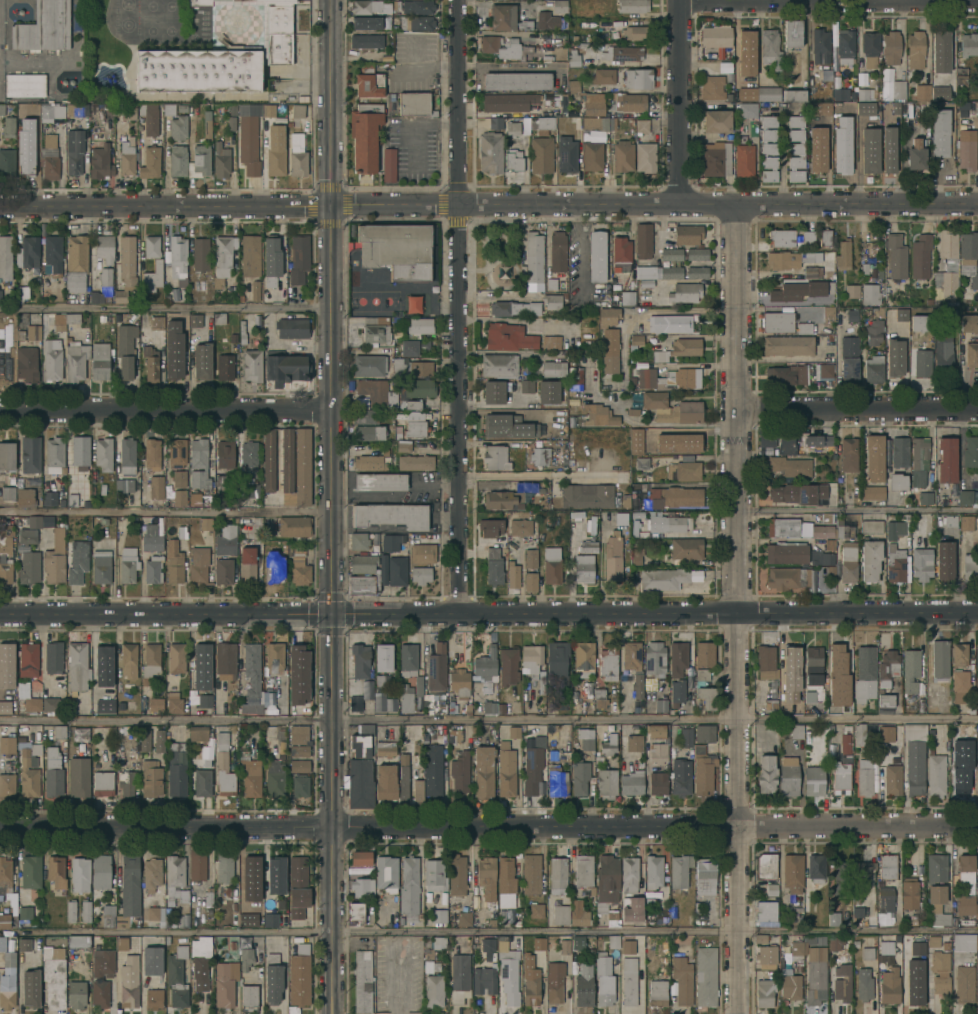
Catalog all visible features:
building: (286, 1)
road: (827, 1)
building: (217, 2)
building: (240, 2)
building: (195, 3)
building: (396, 5)
building: (632, 5)
building: (417, 6)
building: (559, 6)
building: (370, 7)
building: (506, 18)
building: (548, 20)
building: (270, 21)
building: (365, 22)
building: (417, 23)
building: (285, 24)
building: (52, 25)
building: (636, 32)
building: (792, 32)
building: (22, 35)
building: (716, 36)
building: (573, 37)
building: (600, 37)
building: (366, 40)
building: (747, 40)
building: (969, 44)
building: (845, 45)
building: (503, 46)
building: (821, 46)
building: (892, 47)
building: (771, 48)
building: (870, 49)
building: (916, 49)
building: (940, 50)
building: (622, 52)
building: (277, 54)
building: (245, 56)
building: (722, 56)
building: (573, 57)
building: (386, 59)
road: (429, 67)
road: (519, 67)
building: (220, 68)
building: (724, 68)
building: (146, 70)
building: (169, 70)
building: (193, 70)
building: (245, 75)
building: (604, 75)
building: (961, 76)
building: (826, 77)
building: (638, 78)
building: (730, 78)
building: (209, 79)
building: (517, 80)
building: (369, 81)
building: (862, 82)
building: (836, 83)
building: (19, 84)
building: (40, 84)
building: (574, 85)
building: (245, 87)
building: (712, 87)
building: (893, 90)
building: (922, 91)
building: (940, 92)
building: (769, 93)
building: (865, 93)
building: (794, 94)
building: (839, 94)
building: (560, 98)
building: (508, 101)
building: (630, 101)
road: (675, 102)
building: (415, 104)
building: (594, 104)
building: (117, 106)
building: (182, 107)
building: (820, 108)
building: (864, 108)
building: (896, 108)
building: (2, 109)
building: (77, 109)
building: (169, 109)
building: (192, 109)
building: (748, 109)
building: (129, 110)
building: (269, 110)
building: (298, 110)
building: (51, 111)
building: (232, 116)
building: (151, 118)
building: (631, 121)
building: (717, 121)
building: (495, 122)
building: (68, 123)
building: (290, 123)
building: (595, 123)
building: (612, 123)
building: (207, 124)
building: (542, 124)
building: (526, 125)
building: (642, 125)
building: (9, 126)
building: (178, 126)
building: (513, 128)
building: (940, 132)
building: (365, 135)
building: (249, 138)
building: (769, 147)
building: (796, 148)
building: (75, 150)
building: (276, 150)
building: (888, 150)
building: (967, 150)
building: (870, 151)
building: (491, 152)
building: (298, 154)
building: (542, 154)
building: (567, 155)
building: (592, 155)
building: (623, 155)
building: (646, 156)
building: (917, 156)
building: (128, 157)
building: (717, 158)
building: (178, 159)
building: (514, 159)
building: (221, 160)
building: (744, 160)
building: (50, 161)
building: (101, 161)
building: (200, 161)
building: (7, 162)
building: (150, 162)
building: (26, 163)
building: (843, 163)
building: (389, 164)
building: (820, 164)
road: (164, 204)
road: (652, 204)
building: (688, 235)
building: (782, 237)
building: (808, 237)
building: (825, 237)
building: (644, 240)
building: (151, 245)
road: (580, 249)
building: (30, 250)
building: (397, 250)
building: (558, 250)
building: (200, 253)
building: (622, 253)
building: (671, 253)
building: (697, 253)
building: (53, 254)
building: (843, 254)
building: (251, 255)
building: (897, 255)
building: (920, 255)
building: (6, 256)
building: (105, 256)
building: (597, 256)
building: (223, 258)
building: (299, 258)
building: (791, 258)
building: (830, 258)
building: (178, 259)
building: (127, 260)
building: (271, 260)
building: (534, 260)
building: (969, 262)
building: (76, 267)
building: (864, 267)
building: (947, 269)
building: (646, 271)
building: (671, 271)
building: (697, 271)
building: (813, 272)
building: (880, 273)
building: (152, 276)
building: (37, 279)
building: (62, 279)
building: (647, 282)
building: (552, 283)
building: (801, 289)
building: (256, 290)
building: (852, 290)
building: (685, 291)
building: (21, 292)
building: (870, 293)
building: (121, 295)
building: (0, 296)
building: (96, 296)
building: (106, 297)
building: (241, 297)
building: (628, 297)
building: (929, 300)
building: (553, 301)
building: (412, 304)
road: (462, 306)
road: (164, 307)
building: (508, 307)
building: (534, 308)
road: (676, 311)
building: (867, 311)
building: (829, 314)
building: (608, 315)
building: (852, 315)
building: (901, 316)
building: (9, 317)
building: (219, 317)
building: (58, 318)
building: (72, 318)
building: (396, 318)
building: (178, 320)
building: (156, 321)
building: (143, 322)
building: (194, 322)
building: (670, 322)
building: (776, 322)
building: (921, 322)
building: (969, 322)
building: (420, 326)
building: (293, 327)
building: (804, 327)
building: (58, 328)
building: (33, 331)
building: (242, 331)
building: (375, 331)
building: (874, 331)
building: (20, 333)
building: (2, 335)
building: (398, 335)
building: (510, 336)
building: (233, 337)
building: (974, 339)
building: (552, 341)
building: (635, 342)
building: (788, 345)
building: (413, 346)
building: (686, 346)
building: (126, 348)
building: (385, 349)
building: (610, 350)
building: (944, 351)
building: (972, 354)
building: (660, 355)
building: (894, 357)
building: (849, 358)
building: (52, 359)
building: (75, 359)
building: (6, 360)
building: (100, 360)
building: (151, 362)
building: (922, 362)
building: (28, 363)
building: (200, 363)
building: (252, 364)
building: (369, 364)
building: (499, 364)
building: (225, 366)
building: (175, 367)
building: (287, 367)
building: (411, 367)
building: (874, 367)
building: (554, 368)
building: (826, 370)
building: (791, 374)
building: (576, 378)
building: (670, 378)
building: (633, 380)
building: (527, 381)
building: (417, 387)
building: (502, 388)
building: (376, 391)
building: (547, 392)
building: (654, 399)
building: (360, 402)
building: (411, 403)
road: (503, 405)
road: (164, 410)
building: (633, 411)
building: (682, 412)
road: (858, 412)
building: (599, 414)
building: (365, 415)
building: (415, 415)
road: (681, 423)
building: (502, 426)
building: (416, 428)
building: (369, 432)
building: (398, 435)
building: (545, 435)
building: (767, 438)
building: (634, 441)
building: (787, 441)
building: (819, 441)
building: (677, 443)
building: (404, 446)
building: (80, 451)
building: (177, 451)
building: (896, 451)
building: (971, 451)
building: (103, 453)
building: (152, 453)
building: (225, 453)
building: (55, 454)
building: (127, 454)
building: (849, 454)
building: (7, 456)
building: (874, 456)
building: (29, 457)
building: (249, 457)
building: (497, 457)
building: (540, 457)
building: (687, 458)
building: (269, 459)
building: (947, 459)
building: (919, 460)
building: (415, 461)
building: (369, 462)
building: (642, 462)
building: (199, 463)
building: (296, 466)
building: (790, 466)
building: (684, 470)
road: (504, 475)
road: (574, 475)
building: (93, 477)
building: (178, 478)
building: (645, 478)
building: (898, 480)
building: (220, 481)
building: (380, 481)
road: (438, 484)
building: (156, 486)
building: (124, 487)
building: (103, 488)
building: (253, 490)
building: (8, 492)
building: (873, 492)
building: (796, 493)
building: (587, 496)
building: (674, 496)
building: (25, 497)
building: (179, 497)
building: (925, 497)
building: (965, 497)
building: (50, 498)
building: (195, 498)
building: (73, 499)
building: (93, 499)
building: (502, 499)
building: (625, 501)
road: (328, 506)
road: (857, 512)
road: (164, 514)
building: (391, 514)
building: (637, 515)
building: (621, 518)
building: (827, 518)
building: (104, 520)
building: (951, 520)
building: (34, 521)
building: (48, 521)
building: (966, 522)
building: (205, 523)
building: (669, 523)
building: (294, 526)
building: (521, 526)
building: (782, 526)
building: (871, 526)
building: (490, 528)
building: (841, 528)
building: (634, 529)
building: (896, 529)
building: (804, 530)
building: (822, 530)
building: (851, 531)
building: (27, 535)
building: (152, 538)
building: (226, 541)
building: (358, 541)
building: (830, 544)
building: (589, 546)
building: (686, 548)
building: (128, 550)
building: (423, 552)
building: (787, 552)
building: (6, 553)
building: (636, 555)
building: (531, 557)
building: (613, 557)
building: (55, 558)
building: (827, 558)
building: (871, 559)
building: (78, 560)
building: (945, 560)
building: (174, 561)
building: (247, 561)
building: (392, 562)
building: (814, 562)
building: (848, 562)
building: (362, 563)
building: (922, 563)
building: (198, 564)
building: (896, 564)
building: (101, 565)
building: (298, 565)
building: (552, 565)
building: (494, 566)
building: (30, 567)
building: (128, 567)
building: (584, 567)
building: (970, 567)
building: (153, 568)
building: (272, 568)
building: (223, 569)
building: (831, 572)
building: (420, 574)
building: (513, 574)
building: (786, 577)
building: (663, 578)
building: (531, 581)
building: (362, 583)
road: (737, 609)
road: (488, 614)
building: (959, 653)
building: (631, 654)
building: (53, 656)
building: (177, 657)
building: (275, 657)
building: (384, 657)
building: (976, 657)
building: (5, 658)
building: (225, 658)
building: (531, 658)
building: (655, 658)
building: (678, 658)
building: (940, 658)
building: (29, 659)
building: (129, 659)
building: (408, 659)
building: (583, 659)
building: (704, 659)
building: (839, 659)
building: (360, 660)
building: (766, 661)
building: (150, 662)
building: (791, 662)
building: (866, 662)
building: (486, 663)
building: (557, 663)
building: (609, 663)
building: (103, 666)
building: (508, 666)
building: (888, 666)
building: (77, 667)
building: (814, 667)
building: (197, 668)
building: (252, 669)
building: (910, 669)
building: (298, 674)
building: (379, 678)
building: (437, 678)
building: (460, 682)
building: (638, 683)
building: (960, 684)
building: (417, 686)
building: (367, 690)
building: (847, 691)
building: (863, 691)
building: (677, 692)
building: (977, 693)
building: (526, 695)
building: (707, 696)
building: (810, 696)
building: (27, 697)
building: (406, 698)
building: (600, 698)
building: (834, 700)
building: (197, 701)
building: (885, 701)
building: (174, 702)
building: (560, 702)
building: (50, 703)
building: (355, 703)
building: (382, 703)
building: (155, 704)
building: (660, 704)
building: (770, 704)
building: (921, 704)
building: (104, 706)
building: (4, 707)
building: (489, 707)
building: (500, 707)
building: (787, 707)
building: (252, 708)
building: (468, 709)
road: (489, 720)
building: (655, 730)
building: (796, 730)
building: (59, 731)
building: (514, 731)
building: (552, 731)
building: (198, 733)
building: (298, 733)
building: (705, 733)
building: (860, 733)
building: (885, 733)
building: (929, 733)
building: (81, 734)
building: (455, 735)
building: (971, 735)
building: (686, 736)
building: (145, 738)
building: (586, 738)
building: (159, 740)
building: (222, 741)
building: (362, 741)
building: (635, 742)
building: (609, 744)
building: (7, 745)
building: (385, 748)
building: (299, 750)
building: (205, 752)
building: (657, 752)
building: (553, 755)
building: (564, 755)
building: (915, 756)
building: (206, 764)
building: (299, 765)
building: (27, 766)
building: (842, 767)
building: (177, 768)
building: (533, 768)
building: (660, 768)
building: (433, 769)
building: (506, 769)
building: (460, 771)
building: (484, 771)
building: (702, 771)
building: (53, 773)
building: (224, 774)
building: (250, 774)
building: (275, 774)
building: (766, 774)
building: (936, 774)
building: (403, 775)
building: (789, 775)
building: (79, 776)
building: (151, 777)
building: (580, 777)
building: (681, 777)
building: (963, 779)
building: (558, 780)
building: (814, 780)
building: (891, 780)
building: (202, 781)
building: (385, 781)
building: (127, 782)
building: (607, 782)
building: (632, 782)
building: (865, 782)
building: (977, 782)
building: (103, 783)
building: (360, 783)
building: (658, 783)
building: (7, 784)
building: (300, 785)
building: (417, 788)
road: (488, 827)
building: (1, 847)
building: (360, 857)
building: (197, 864)
building: (225, 865)
building: (766, 865)
building: (887, 866)
building: (920, 867)
building: (937, 867)
building: (966, 867)
building: (816, 868)
building: (252, 869)
building: (583, 870)
building: (680, 870)
building: (31, 871)
building: (57, 871)
building: (101, 871)
building: (654, 871)
building: (793, 872)
building: (80, 873)
building: (152, 873)
building: (531, 873)
building: (5, 874)
building: (436, 874)
building: (457, 874)
building: (629, 874)
building: (863, 874)
building: (275, 875)
building: (558, 875)
building: (705, 876)
building: (176, 877)
building: (842, 878)
building: (487, 881)
building: (506, 882)
building: (386, 885)
building: (608, 886)
building: (297, 887)
building: (362, 887)
building: (409, 888)
building: (129, 889)
building: (772, 889)
building: (592, 890)
building: (228, 891)
building: (910, 893)
building: (209, 896)
building: (247, 897)
building: (702, 899)
building: (12, 900)
building: (885, 903)
building: (966, 904)
building: (938, 905)
building: (632, 908)
building: (71, 910)
building: (85, 910)
building: (537, 910)
building: (766, 911)
building: (976, 911)
building: (25, 912)
building: (153, 912)
building: (356, 912)
building: (857, 912)
building: (561, 914)
building: (439, 915)
building: (107, 916)
building: (580, 917)
building: (464, 918)
building: (833, 918)
building: (4, 920)
building: (246, 920)
building: (270, 920)
building: (401, 920)
building: (135, 921)
building: (185, 921)
building: (677, 921)
building: (913, 921)
building: (173, 922)
building: (517, 923)
building: (857, 923)
building: (766, 924)
road: (489, 934)
building: (760, 938)
building: (148, 939)
building: (167, 939)
building: (439, 940)
building: (821, 940)
building: (613, 941)
building: (934, 941)
building: (242, 942)
building: (578, 942)
building: (964, 942)
building: (976, 942)
building: (2, 943)
building: (539, 943)
building: (76, 944)
building: (120, 944)
building: (512, 944)
building: (24, 945)
building: (232, 945)
building: (945, 945)
building: (564, 946)
building: (628, 946)
building: (835, 946)
building: (805, 947)
building: (886, 947)
building: (487, 948)
building: (797, 948)
building: (917, 948)
building: (200, 951)
building: (867, 953)
building: (767, 954)
building: (246, 957)
building: (9, 958)
building: (152, 960)
building: (430, 961)
building: (103, 962)
building: (509, 970)
building: (940, 973)
building: (299, 975)
building: (816, 975)
building: (706, 976)
building: (177, 977)
building: (460, 977)
building: (55, 978)
building: (273, 978)
building: (604, 978)
building: (682, 978)
building: (484, 979)
road: (396, 980)
building: (531, 980)
building: (362, 981)
building: (555, 981)
building: (629, 981)
building: (204, 982)
building: (915, 982)
building: (226, 983)
building: (840, 983)
building: (964, 983)
building: (864, 984)
building: (889, 985)
building: (791, 986)
building: (7, 987)
building: (584, 987)
building: (30, 988)
building: (434, 990)
building: (100, 992)
building: (129, 992)
building: (657, 992)
building: (764, 992)
building: (76, 994)
building: (154, 995)
building: (249, 997)

